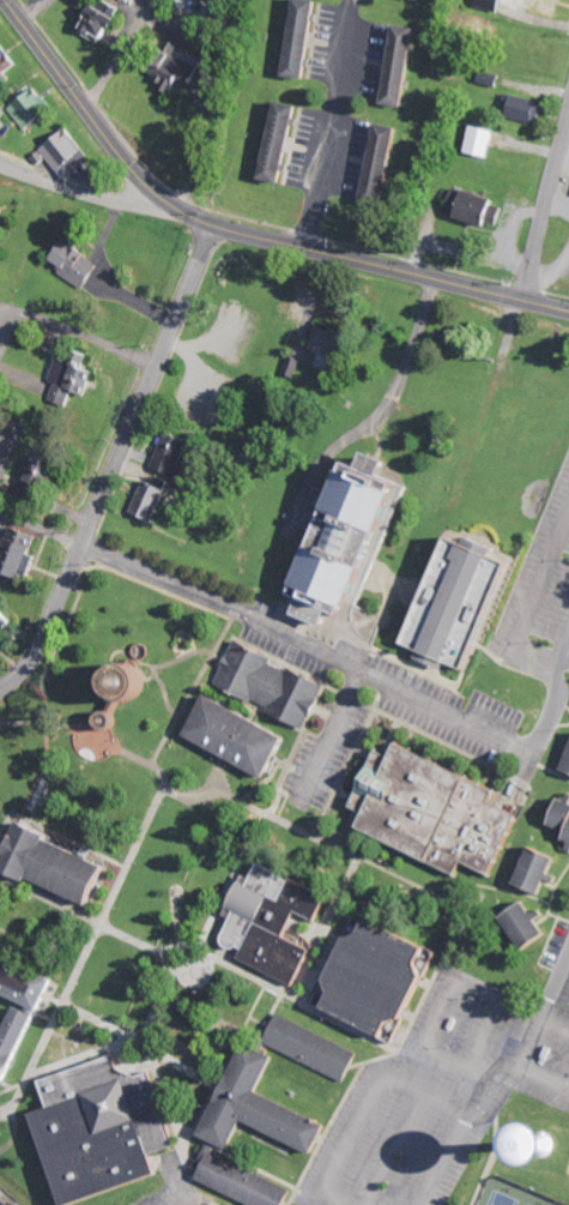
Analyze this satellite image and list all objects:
building: (429, 0)
building: (490, 5)
building: (103, 25)
building: (308, 38)
building: (7, 61)
building: (406, 66)
building: (181, 68)
building: (525, 108)
building: (32, 109)
building: (483, 141)
building: (286, 143)
building: (68, 153)
building: (387, 164)
road: (86, 195)
road: (545, 200)
building: (476, 206)
road: (238, 233)
building: (79, 265)
building: (332, 349)
building: (71, 380)
building: (176, 454)
road: (113, 462)
building: (42, 476)
building: (153, 499)
building: (359, 537)
building: (22, 550)
building: (468, 602)
road: (531, 610)
road: (308, 644)
building: (274, 682)
road: (557, 694)
building: (246, 734)
building: (567, 767)
building: (440, 809)
building: (561, 815)
building: (568, 846)
building: (63, 862)
building: (541, 870)
building: (276, 922)
building: (532, 924)
building: (1, 929)
building: (383, 978)
building: (26, 980)
road: (556, 981)
road: (447, 1005)
road: (485, 1034)
building: (18, 1041)
building: (315, 1047)
road: (544, 1072)
road: (369, 1102)
building: (264, 1105)
road: (485, 1111)
building: (108, 1128)
road: (395, 1149)
building: (243, 1180)
road: (175, 1182)
building: (212, 1204)

